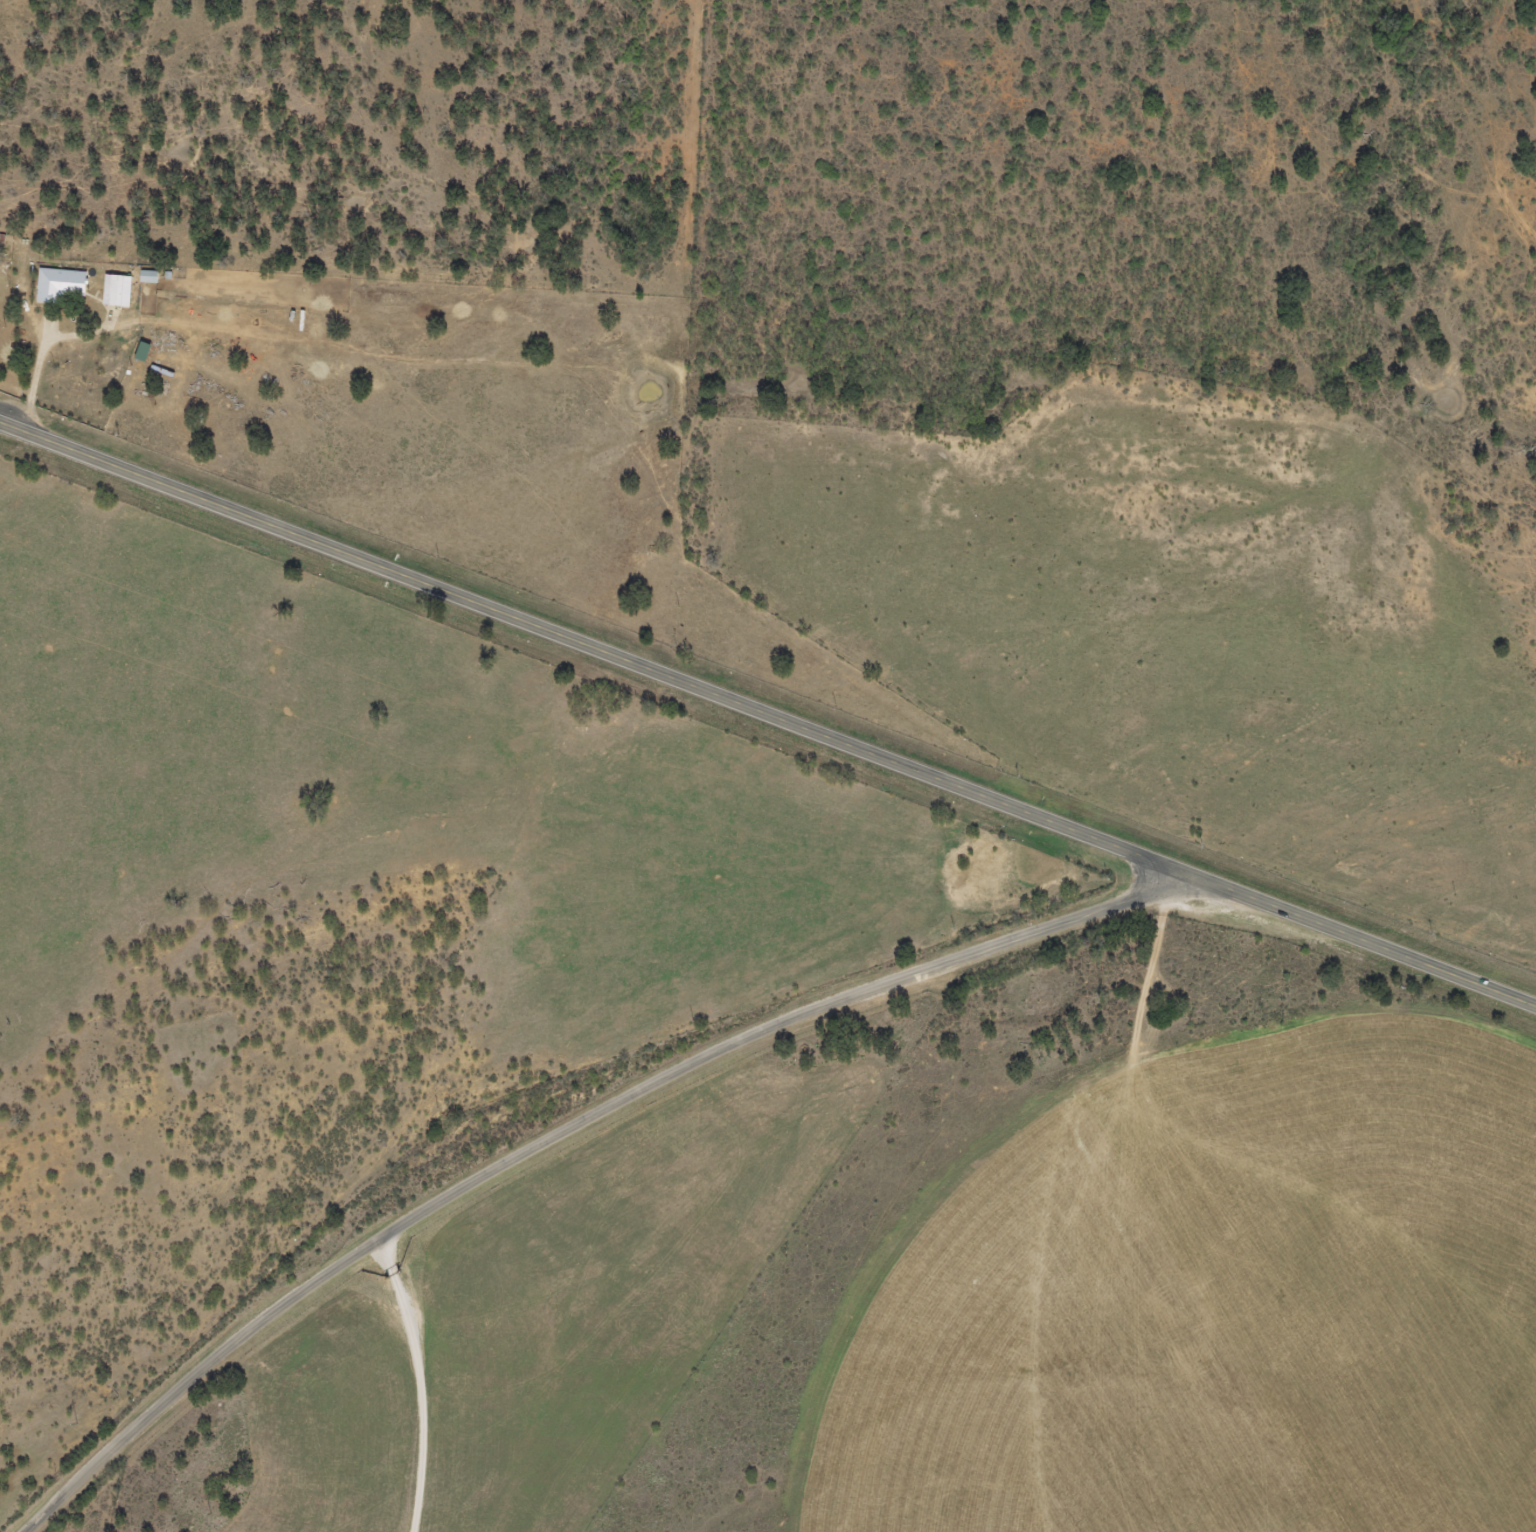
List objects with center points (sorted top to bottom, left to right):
building: (147, 278)
building: (59, 288)
building: (115, 292)
road: (767, 717)
road: (572, 1125)
crop: (1219, 1302)

